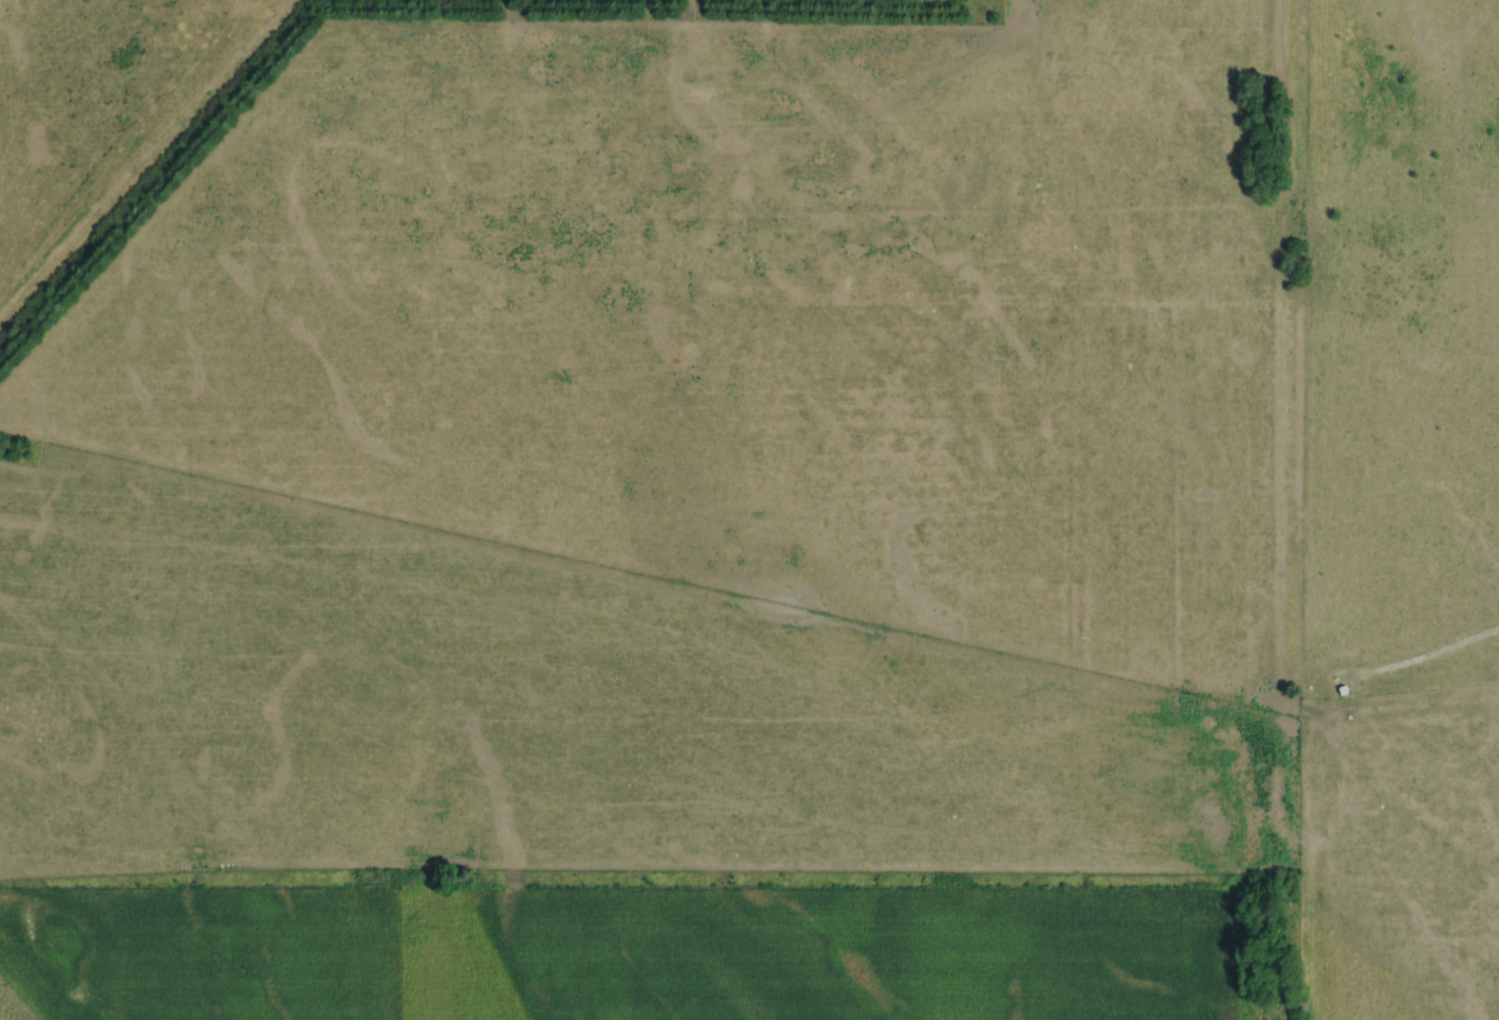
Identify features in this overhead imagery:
road: (1416, 661)

